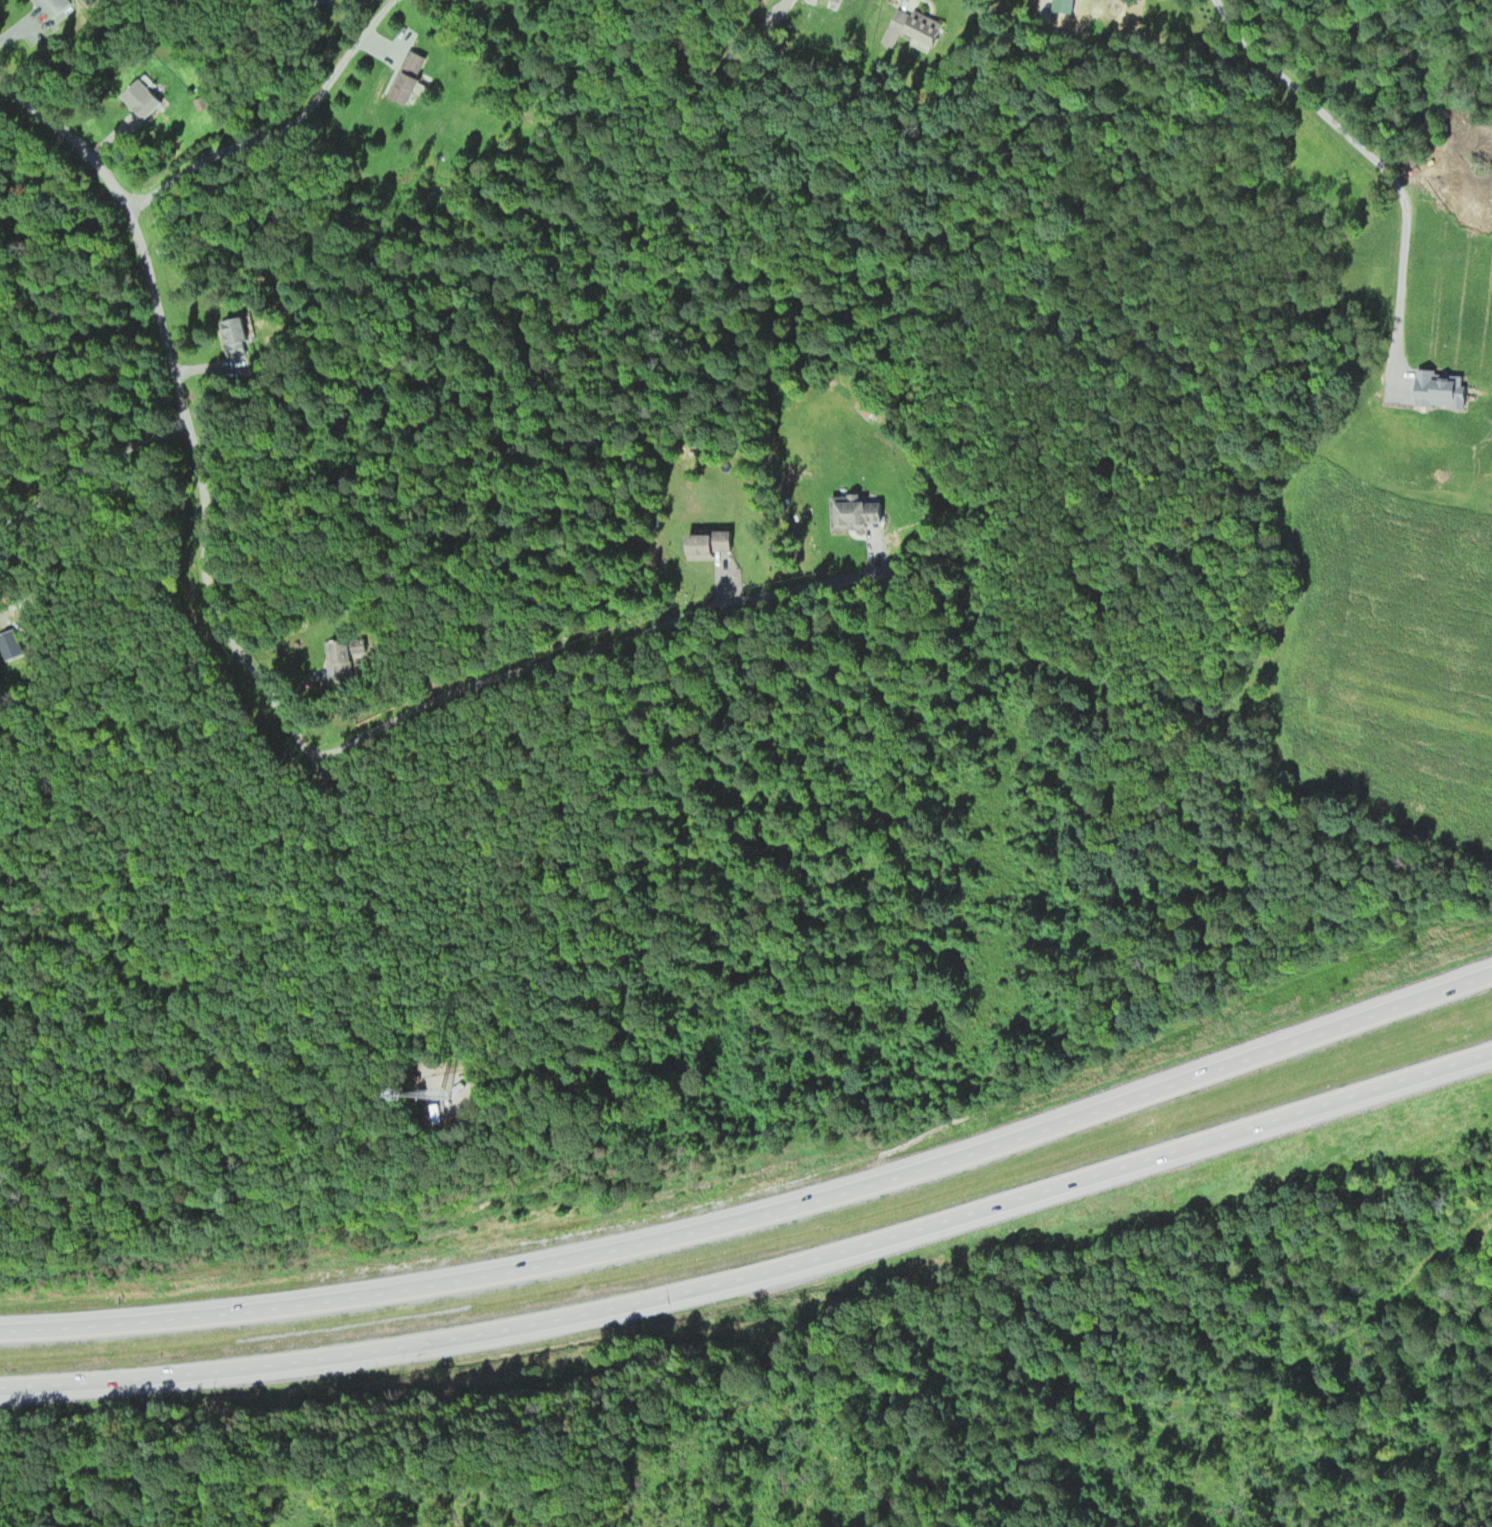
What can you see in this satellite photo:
building: (53, 6)
building: (922, 25)
building: (412, 73)
building: (146, 97)
building: (204, 100)
building: (240, 338)
building: (859, 512)
building: (713, 543)
building: (4, 645)
building: (347, 660)
road: (760, 1220)
road: (761, 1280)
road: (3, 1393)

